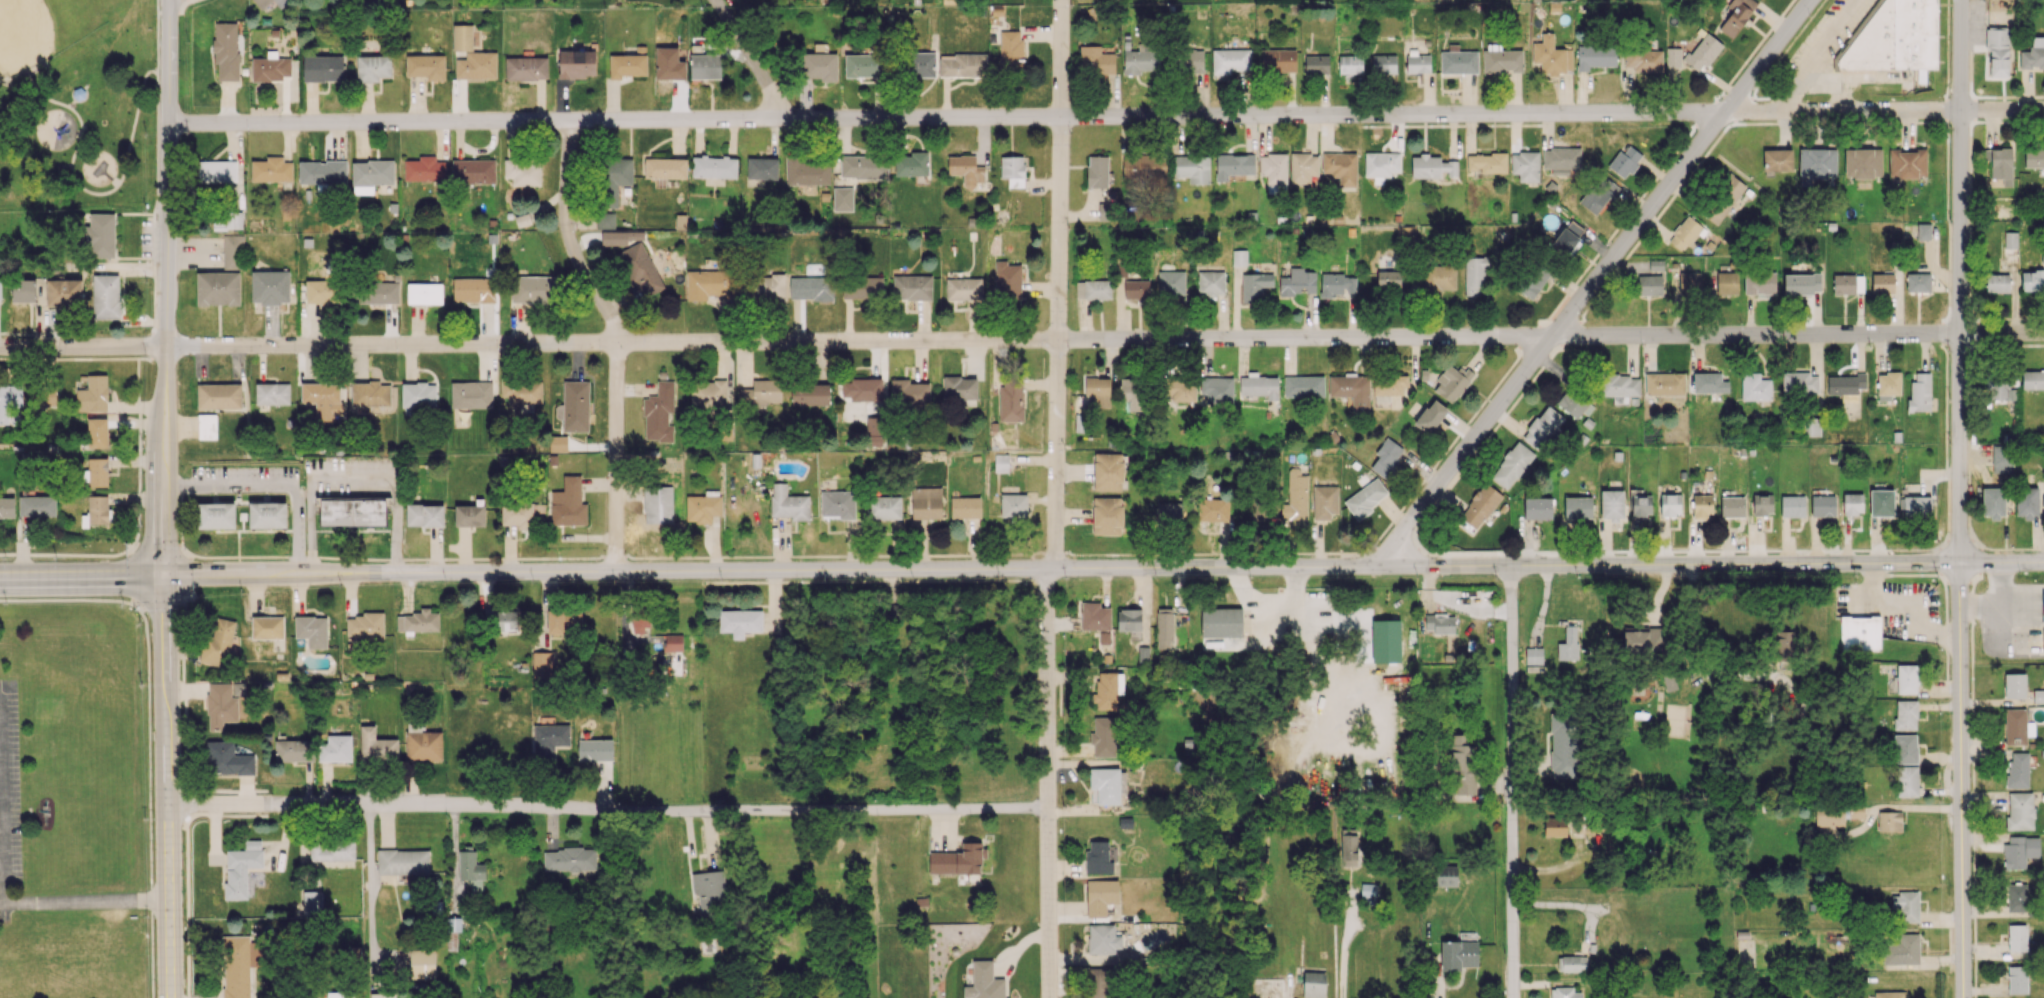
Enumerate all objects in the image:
building: (370, 1)
parking lot: (167, 2)
building: (262, 4)
building: (1737, 16)
park: (46, 29)
road: (157, 35)
building: (1896, 37)
road: (1826, 40)
road: (1971, 47)
building: (1011, 48)
building: (226, 49)
building: (1702, 52)
building: (1998, 52)
building: (2033, 54)
building: (1551, 56)
building: (1595, 56)
building: (1673, 57)
road: (752, 59)
building: (1141, 59)
building: (1096, 60)
building: (1190, 60)
building: (1278, 60)
building: (1458, 60)
building: (1502, 60)
building: (1643, 60)
building: (670, 61)
building: (1230, 61)
building: (577, 63)
building: (629, 63)
building: (1384, 63)
building: (1418, 63)
building: (922, 64)
building: (1316, 64)
building: (477, 65)
building: (862, 65)
building: (963, 65)
building: (1350, 65)
building: (425, 66)
building: (820, 66)
building: (373, 67)
building: (270, 68)
building: (323, 68)
building: (526, 68)
road: (1834, 91)
road: (1795, 94)
road: (2008, 96)
park: (78, 106)
road: (2002, 108)
road: (1065, 115)
road: (1990, 121)
road: (2025, 121)
road: (157, 141)
building: (2034, 157)
building: (1562, 159)
building: (1777, 159)
road: (1970, 159)
building: (1625, 161)
building: (1487, 162)
building: (1907, 162)
building: (1863, 163)
building: (2001, 163)
building: (912, 164)
building: (1816, 164)
building: (1143, 165)
building: (1234, 165)
building: (1381, 165)
building: (714, 166)
building: (1431, 166)
building: (1526, 166)
building: (666, 167)
building: (863, 167)
building: (1273, 167)
building: (1303, 167)
building: (1341, 167)
building: (424, 168)
building: (1192, 168)
building: (271, 169)
building: (217, 170)
building: (760, 170)
building: (966, 170)
building: (1013, 170)
building: (473, 171)
building: (523, 171)
building: (1097, 171)
building: (322, 172)
building: (807, 172)
building: (371, 175)
building: (613, 179)
road: (89, 192)
building: (1598, 194)
building: (843, 198)
building: (1724, 200)
road: (1969, 208)
building: (1106, 211)
building: (605, 220)
building: (681, 221)
road: (1969, 230)
building: (1923, 231)
building: (1684, 233)
building: (100, 236)
building: (620, 237)
building: (1568, 239)
building: (2010, 246)
building: (232, 251)
building: (1239, 257)
building: (640, 268)
building: (1474, 276)
building: (1389, 278)
building: (1438, 278)
building: (1531, 279)
road: (1968, 279)
building: (1007, 280)
building: (2032, 280)
road: (1593, 281)
road: (1960, 281)
building: (1298, 282)
building: (1685, 282)
building: (1727, 282)
building: (1760, 282)
building: (1882, 282)
building: (1918, 282)
building: (2001, 282)
building: (1171, 283)
building: (1210, 283)
building: (1802, 283)
building: (1844, 283)
building: (709, 284)
road: (1058, 285)
building: (1255, 285)
building: (1338, 285)
building: (1650, 285)
building: (270, 286)
building: (963, 286)
building: (767, 287)
building: (912, 287)
road: (167, 288)
building: (218, 288)
building: (811, 288)
building: (862, 288)
building: (0, 289)
building: (474, 289)
building: (533, 289)
building: (1093, 289)
building: (1136, 289)
building: (23, 290)
building: (320, 291)
building: (63, 292)
building: (374, 292)
building: (424, 293)
building: (105, 296)
road: (2009, 318)
road: (1974, 331)
road: (2002, 331)
road: (1063, 338)
road: (618, 340)
road: (1995, 344)
road: (2031, 344)
road: (83, 346)
building: (2033, 379)
building: (1452, 382)
building: (1665, 383)
building: (1709, 383)
building: (1800, 383)
building: (1845, 384)
building: (1259, 385)
building: (1888, 385)
building: (1303, 386)
building: (1620, 387)
building: (1755, 387)
building: (1999, 387)
building: (861, 388)
building: (1387, 388)
building: (1217, 389)
building: (1351, 389)
building: (522, 390)
building: (960, 390)
building: (1183, 390)
building: (1098, 391)
building: (909, 392)
building: (1920, 392)
building: (272, 393)
building: (1133, 393)
building: (93, 394)
building: (471, 394)
building: (711, 394)
building: (760, 394)
building: (810, 394)
building: (369, 395)
building: (219, 396)
building: (45, 399)
building: (9, 400)
building: (323, 400)
building: (1011, 401)
building: (1574, 404)
building: (574, 406)
building: (659, 412)
building: (1430, 417)
building: (207, 426)
building: (1543, 427)
building: (1811, 427)
building: (97, 432)
building: (875, 432)
building: (2002, 455)
building: (1386, 458)
building: (1001, 462)
building: (1512, 465)
building: (1108, 471)
building: (98, 472)
road: (353, 477)
road: (273, 483)
building: (1296, 498)
building: (1366, 498)
building: (788, 502)
building: (1325, 502)
building: (1881, 502)
building: (1993, 502)
building: (2027, 502)
building: (568, 503)
building: (838, 503)
building: (926, 503)
building: (1852, 503)
building: (658, 504)
building: (1612, 504)
building: (1670, 504)
building: (1762, 504)
building: (1013, 505)
building: (1480, 505)
building: (1641, 505)
building: (1731, 505)
building: (1822, 505)
building: (37, 506)
building: (1701, 506)
building: (1792, 506)
building: (1917, 506)
building: (7, 507)
building: (883, 507)
building: (965, 507)
building: (1578, 507)
building: (701, 508)
building: (1538, 508)
building: (1213, 509)
building: (98, 510)
building: (353, 512)
building: (1169, 512)
building: (521, 514)
building: (216, 515)
building: (267, 515)
building: (425, 515)
building: (469, 515)
building: (1107, 515)
road: (2016, 549)
road: (2003, 563)
traffic signals: (1962, 564)
road: (1137, 569)
road: (230, 575)
road: (305, 575)
road: (82, 576)
traffic signals: (164, 576)
road: (2011, 588)
road: (1988, 597)
building: (2043, 608)
building: (1095, 616)
road: (1292, 617)
building: (502, 618)
building: (563, 620)
building: (418, 621)
building: (1129, 621)
road: (2001, 621)
building: (740, 622)
building: (1221, 622)
building: (639, 623)
building: (1439, 623)
building: (365, 626)
building: (267, 627)
building: (1164, 628)
building: (312, 630)
building: (1860, 633)
building: (1104, 637)
building: (1642, 639)
building: (673, 642)
building: (1569, 642)
building: (219, 643)
building: (1783, 650)
road: (1699, 653)
building: (542, 664)
building: (1906, 678)
building: (1669, 681)
building: (2015, 685)
building: (1108, 690)
building: (2038, 696)
building: (221, 705)
building: (1905, 714)
building: (2017, 726)
road: (1378, 730)
building: (1103, 735)
building: (549, 740)
building: (423, 744)
building: (1562, 744)
building: (376, 745)
building: (335, 748)
building: (1905, 748)
building: (595, 749)
building: (290, 750)
building: (228, 759)
building: (2018, 769)
building: (1463, 770)
building: (1907, 781)
road: (1963, 781)
road: (1514, 782)
road: (1050, 784)
building: (1106, 785)
road: (167, 786)
road: (608, 808)
building: (1856, 810)
building: (2020, 810)
building: (1829, 817)
building: (1889, 820)
building: (1559, 826)
building: (1351, 847)
building: (332, 850)
building: (2020, 851)
building: (1098, 857)
building: (571, 860)
building: (958, 860)
building: (403, 861)
building: (241, 868)
building: (471, 869)
building: (1445, 875)
road: (0, 884)
building: (709, 889)
road: (369, 893)
building: (1367, 893)
building: (1101, 896)
building: (2017, 897)
building: (312, 902)
road: (84, 904)
building: (1906, 905)
building: (2017, 937)
building: (1103, 939)
road: (1346, 941)
building: (1902, 950)
building: (1458, 954)
building: (1573, 962)
building: (422, 963)
building: (238, 966)
building: (2017, 979)
building: (984, 982)
building: (1098, 982)
building: (1314, 984)
building: (1565, 992)
building: (1889, 994)
building: (340, 995)
building: (383, 995)

